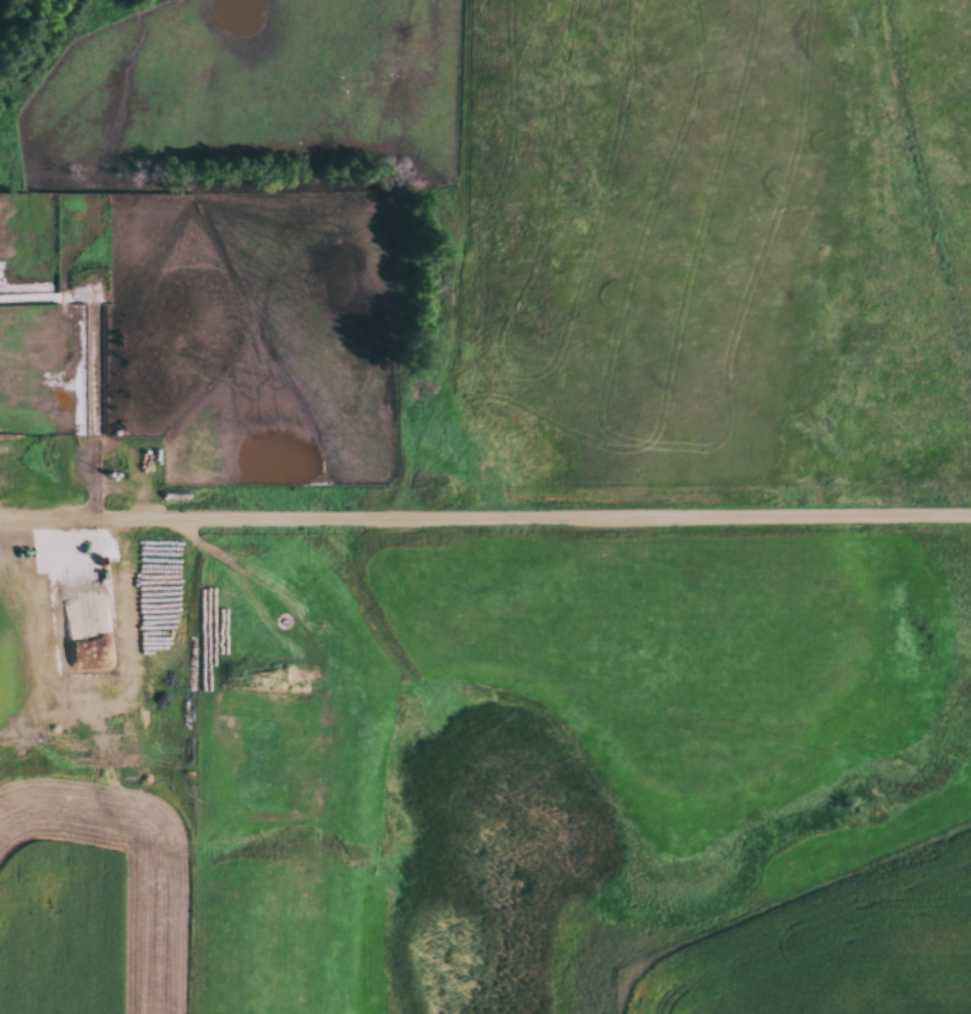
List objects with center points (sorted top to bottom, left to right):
road: (485, 515)
building: (165, 734)

